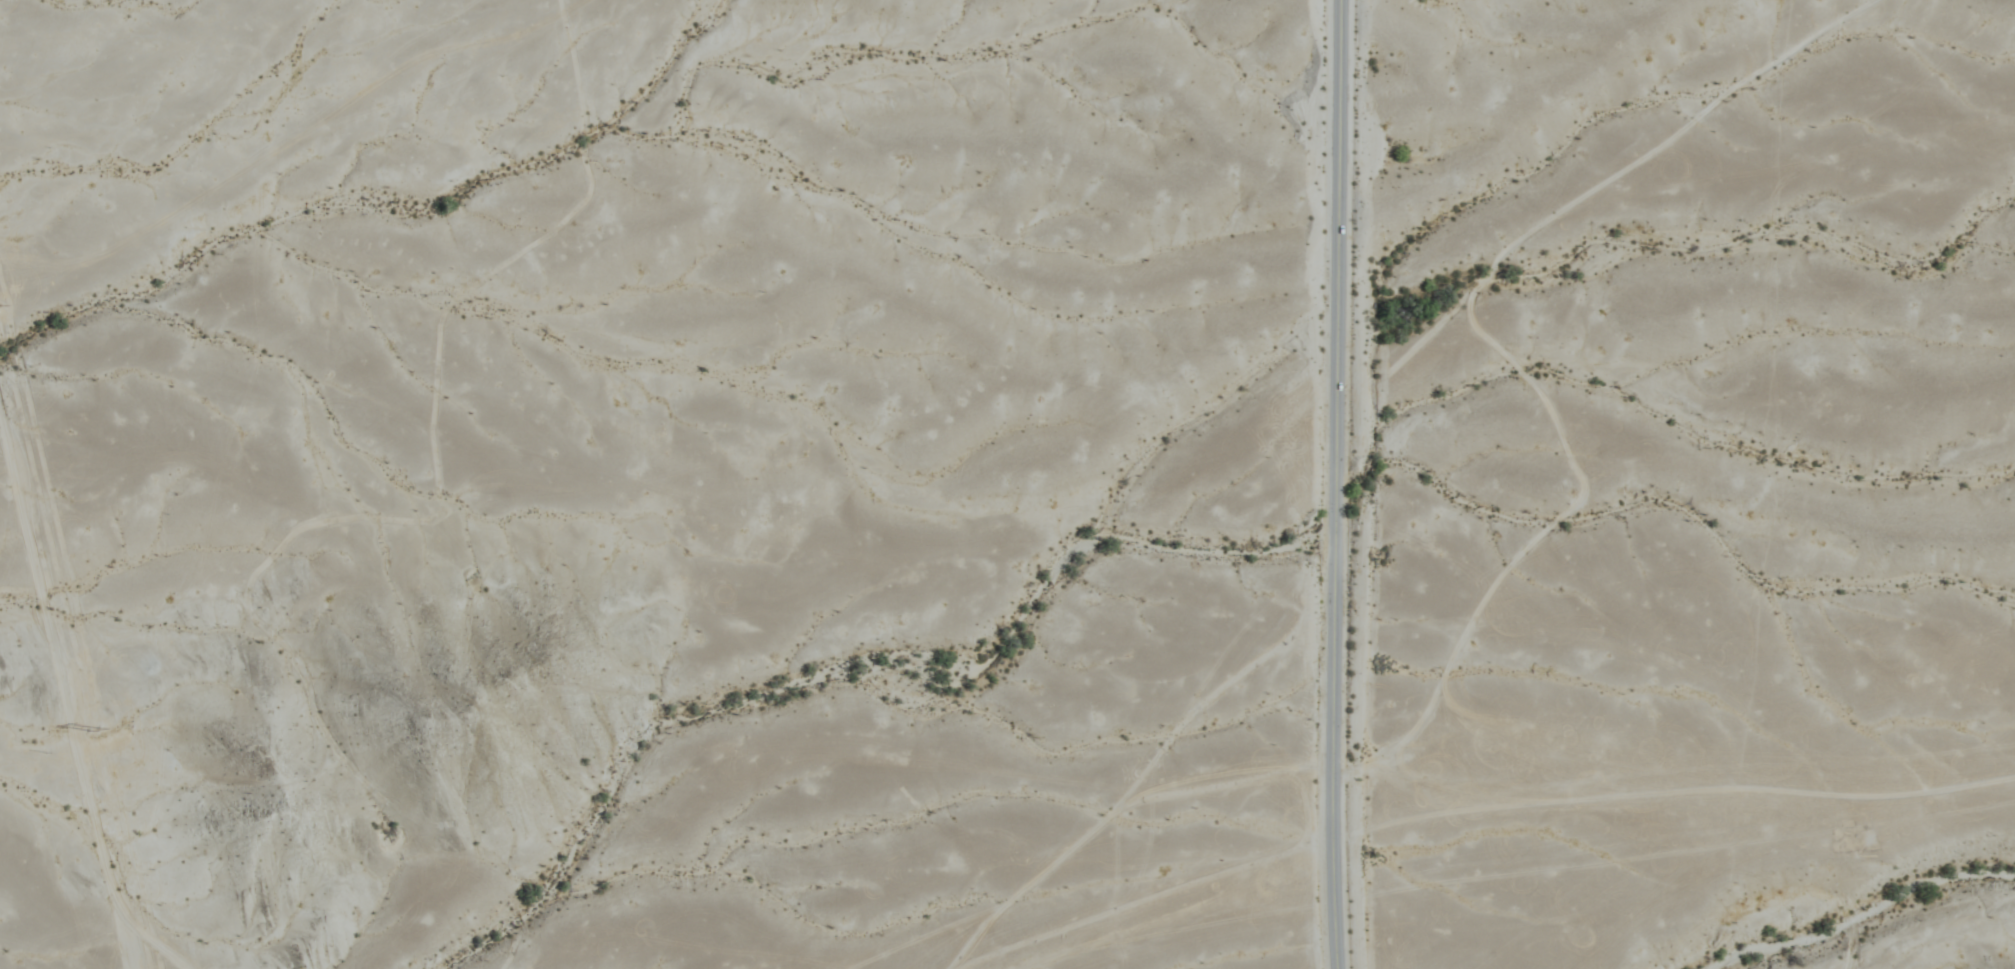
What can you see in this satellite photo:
power tower: (10, 308)
road: (1336, 484)
road: (64, 713)
power tower: (107, 732)

